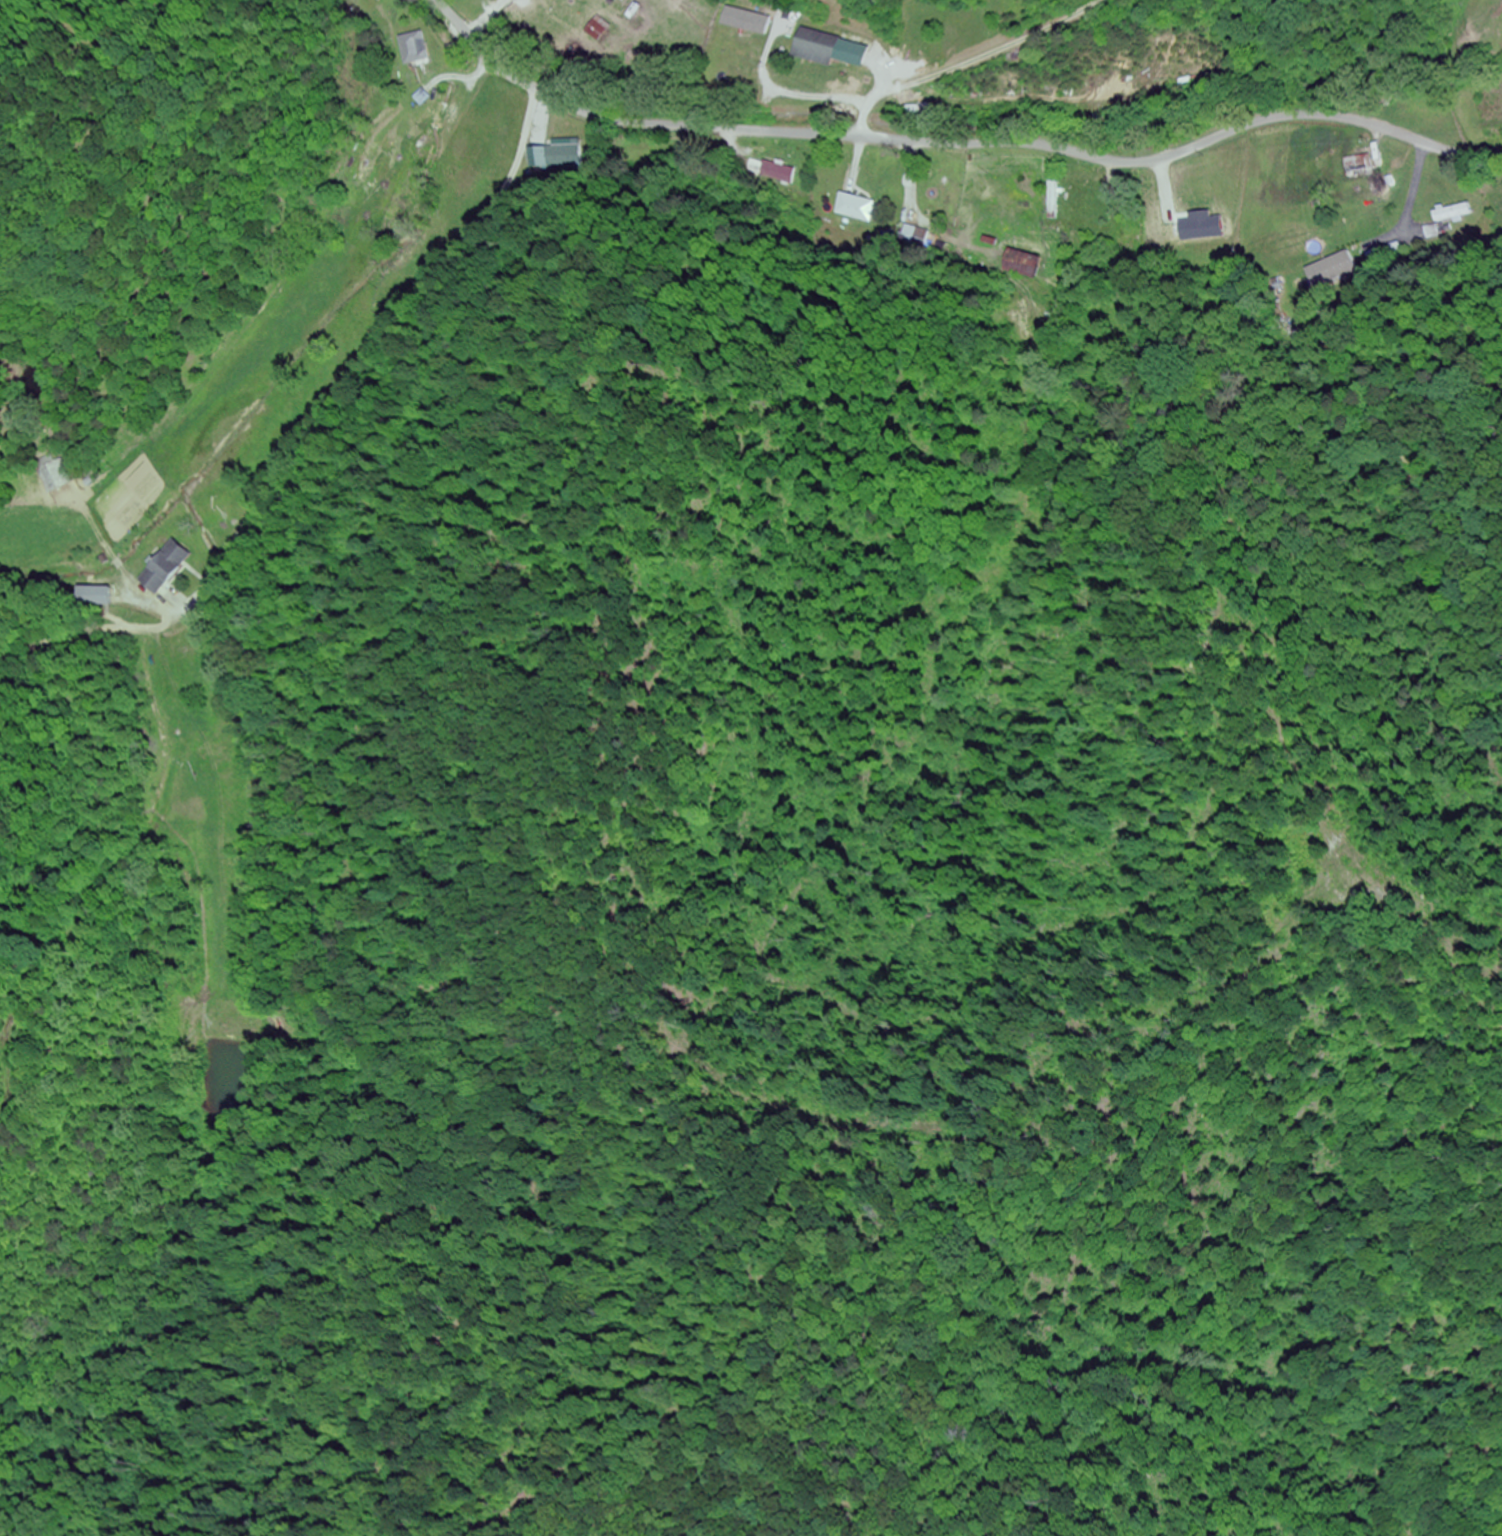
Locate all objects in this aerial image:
building: (598, 30)
building: (812, 48)
building: (415, 49)
road: (966, 58)
road: (956, 145)
building: (557, 153)
building: (1362, 167)
building: (777, 172)
building: (1053, 201)
building: (1150, 207)
building: (1453, 213)
road: (324, 217)
building: (346, 222)
building: (1203, 231)
building: (1340, 260)
road: (220, 327)
road: (363, 441)
building: (57, 477)
building: (164, 567)

